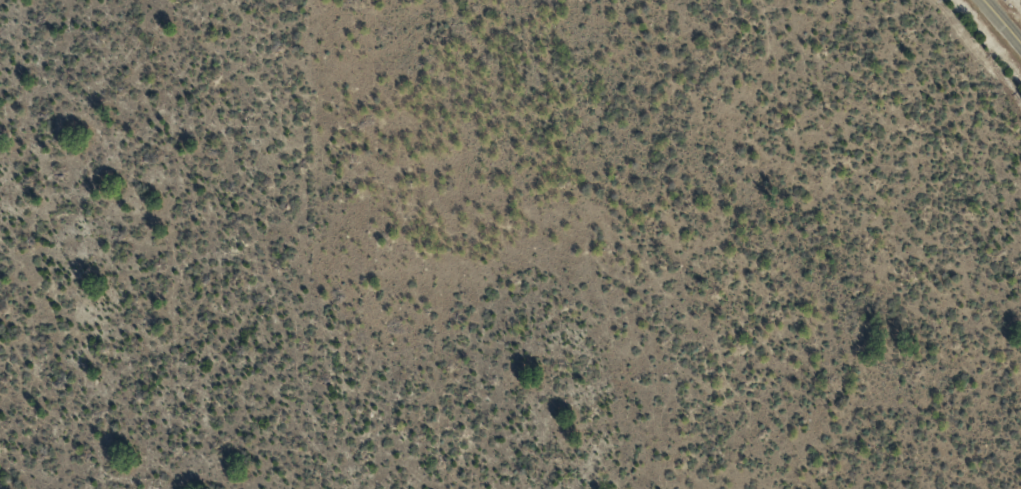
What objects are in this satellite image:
road: (999, 24)

